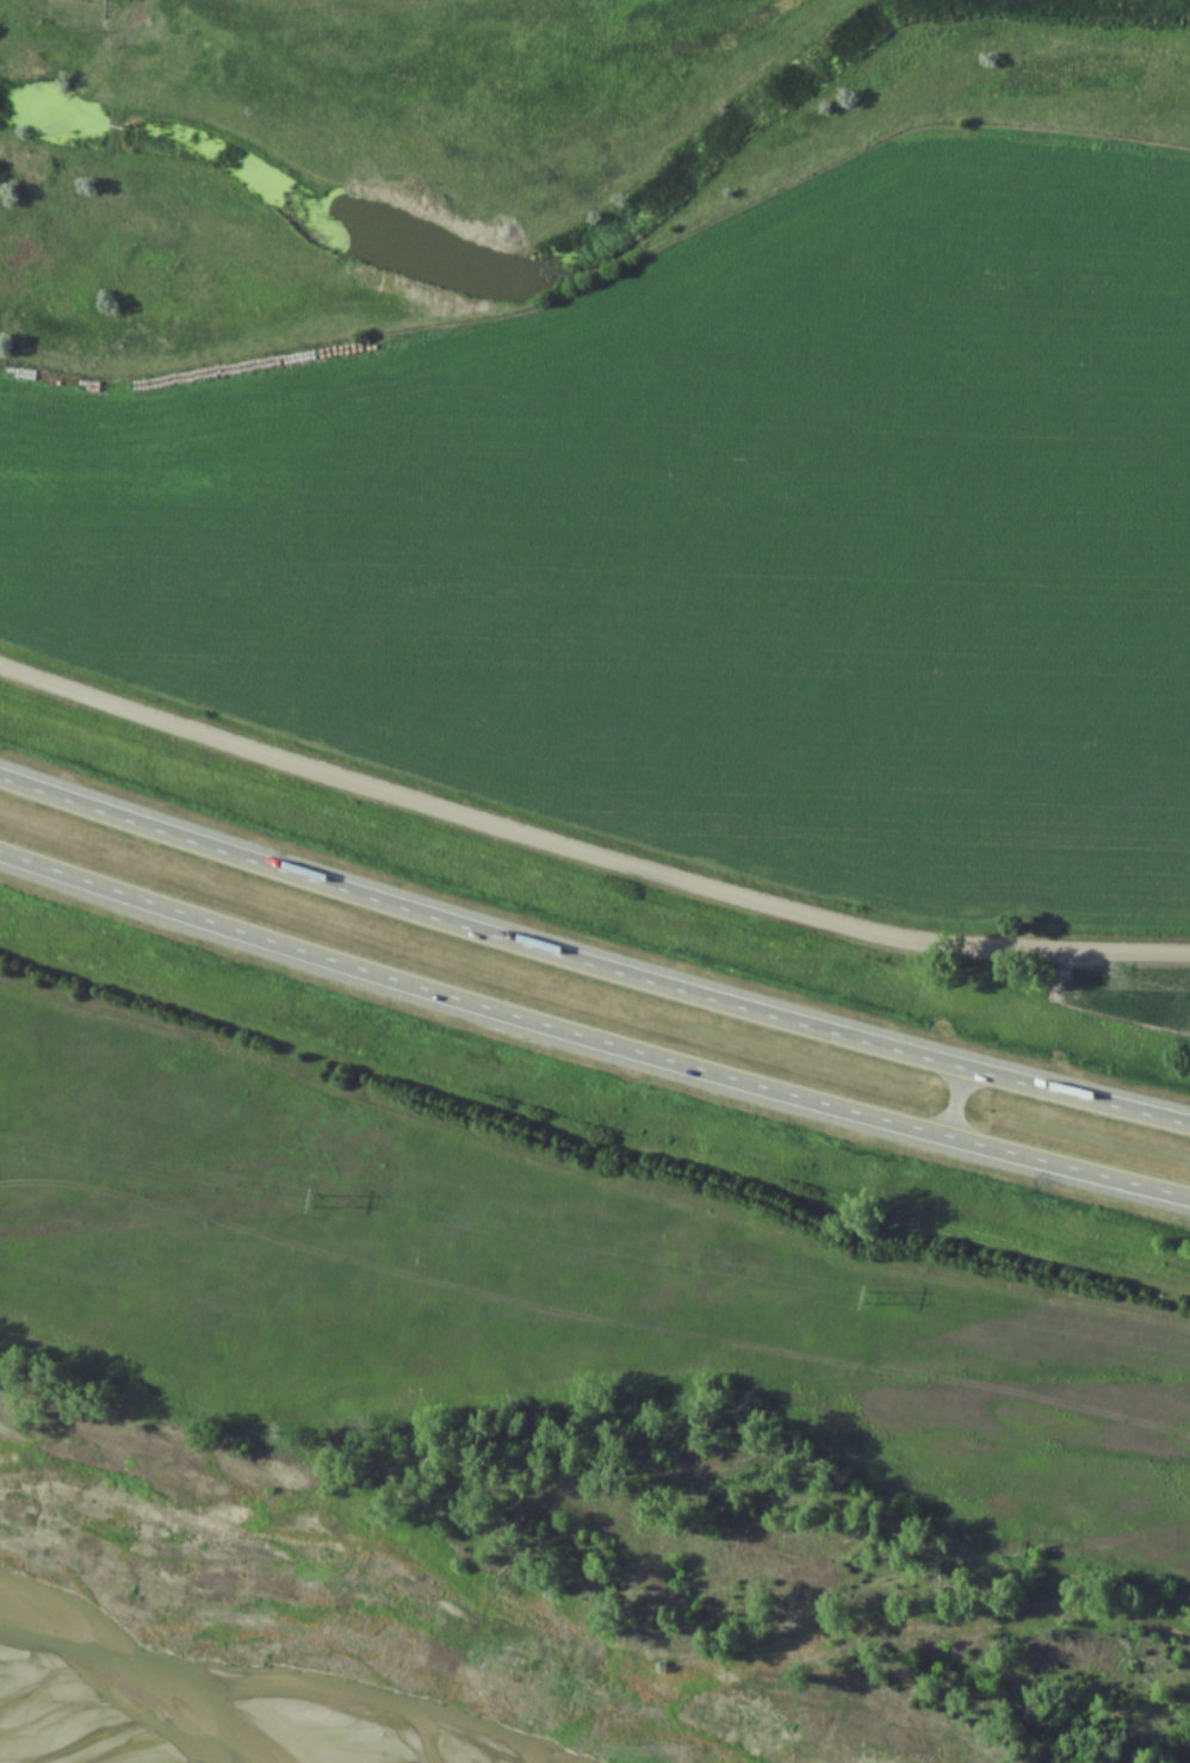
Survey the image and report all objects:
road: (587, 853)
building: (172, 919)
road: (590, 963)
road: (590, 1037)
road: (950, 1100)
power tower: (315, 1203)
power tower: (868, 1298)

